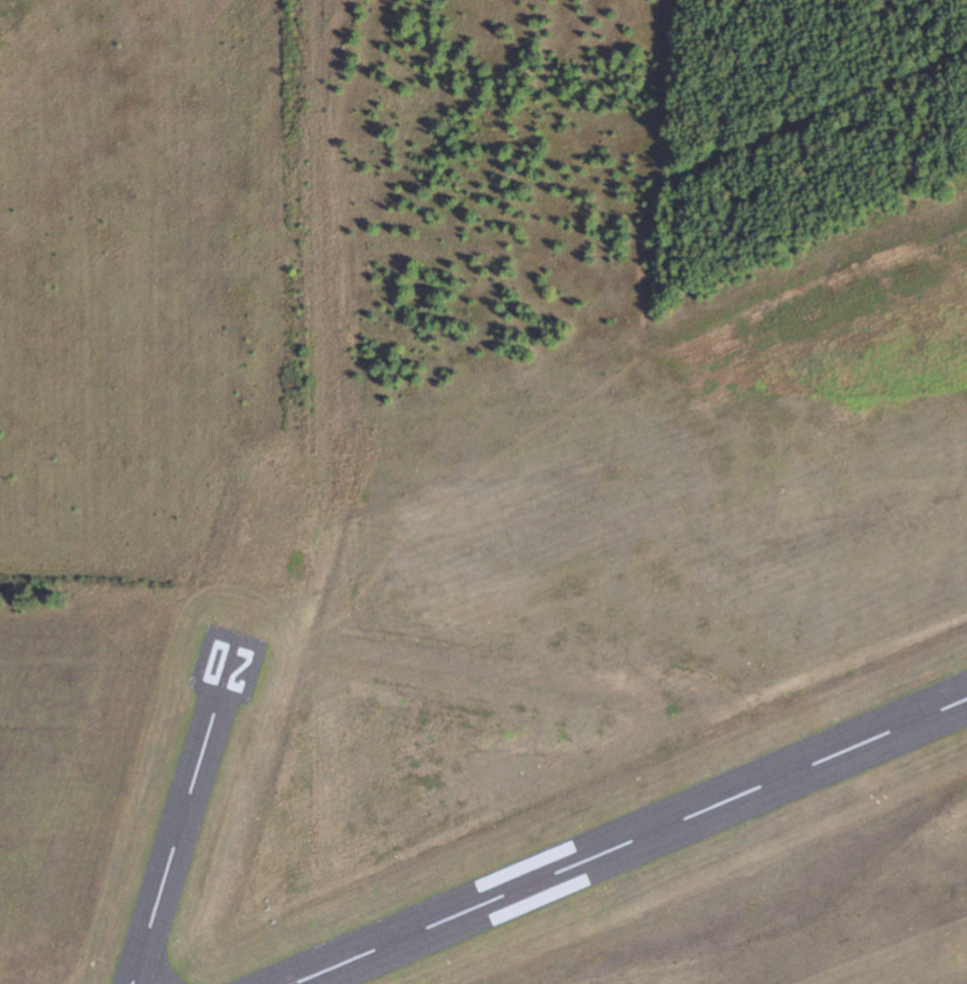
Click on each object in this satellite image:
airport: (549, 668)
building: (964, 674)
building: (923, 718)
building: (755, 789)
airport runway: (184, 815)
airport runway: (630, 841)
building: (373, 970)

